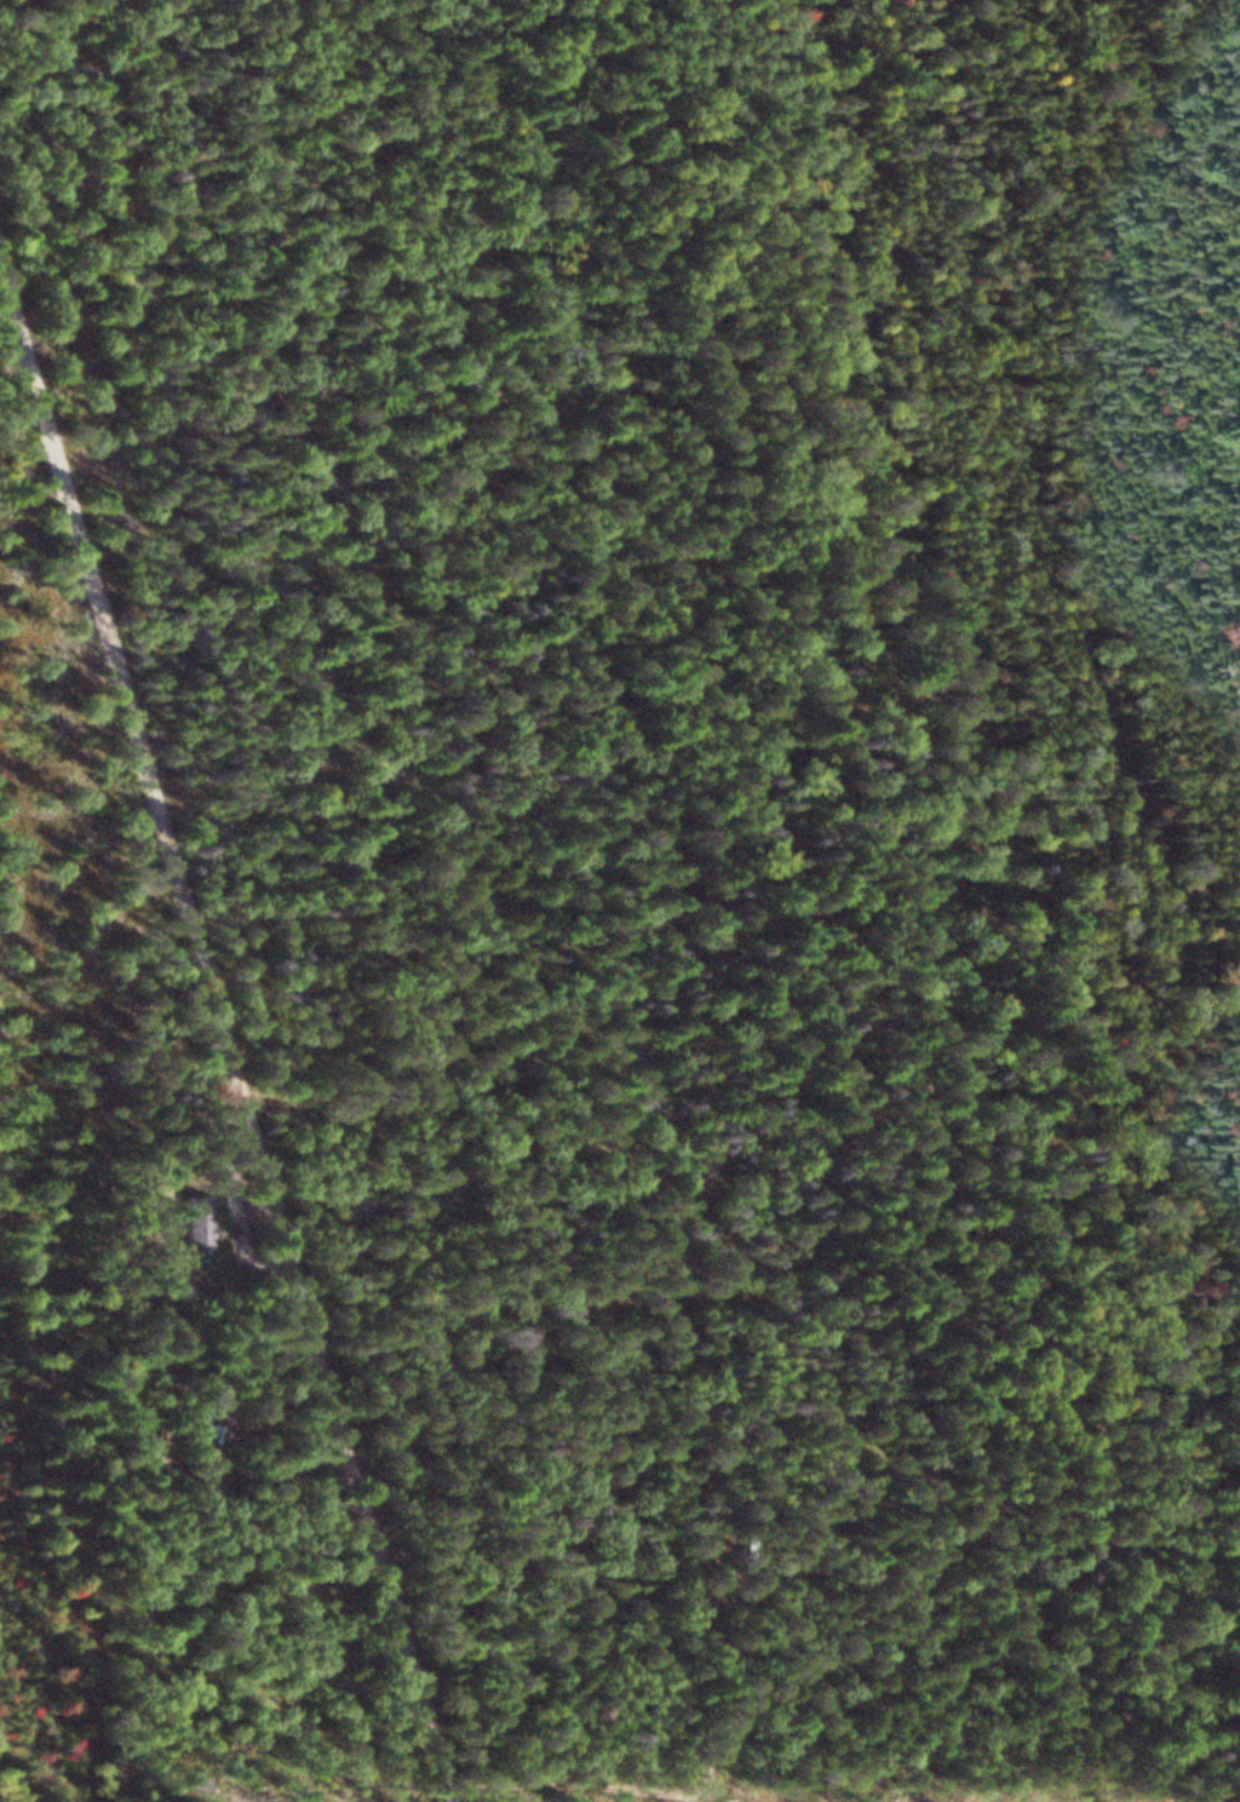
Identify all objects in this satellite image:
road: (230, 1011)
road: (951, 1043)
building: (203, 1232)
building: (211, 1430)
road: (682, 1555)

